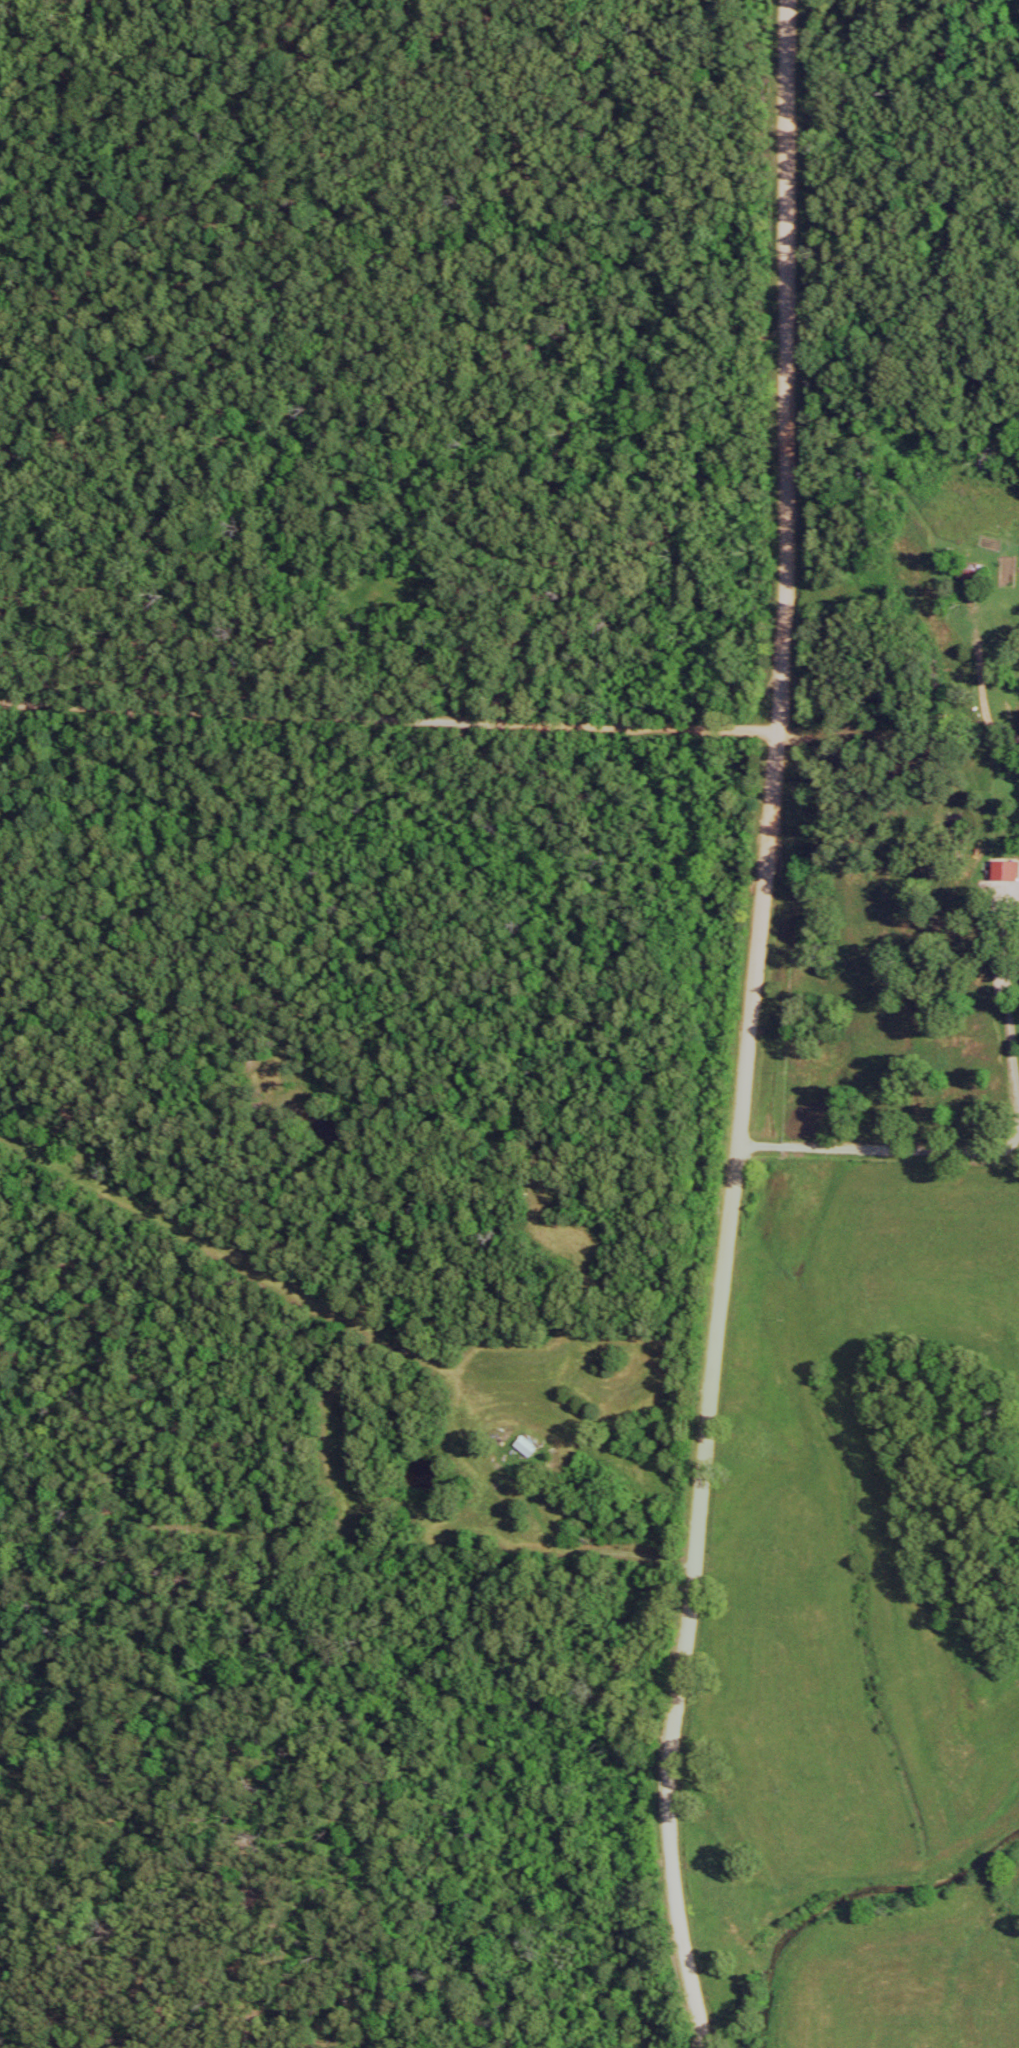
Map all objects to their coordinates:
building: (972, 578)
road: (510, 723)
road: (746, 1026)
road: (868, 1293)
building: (522, 1450)
park: (338, 1803)

